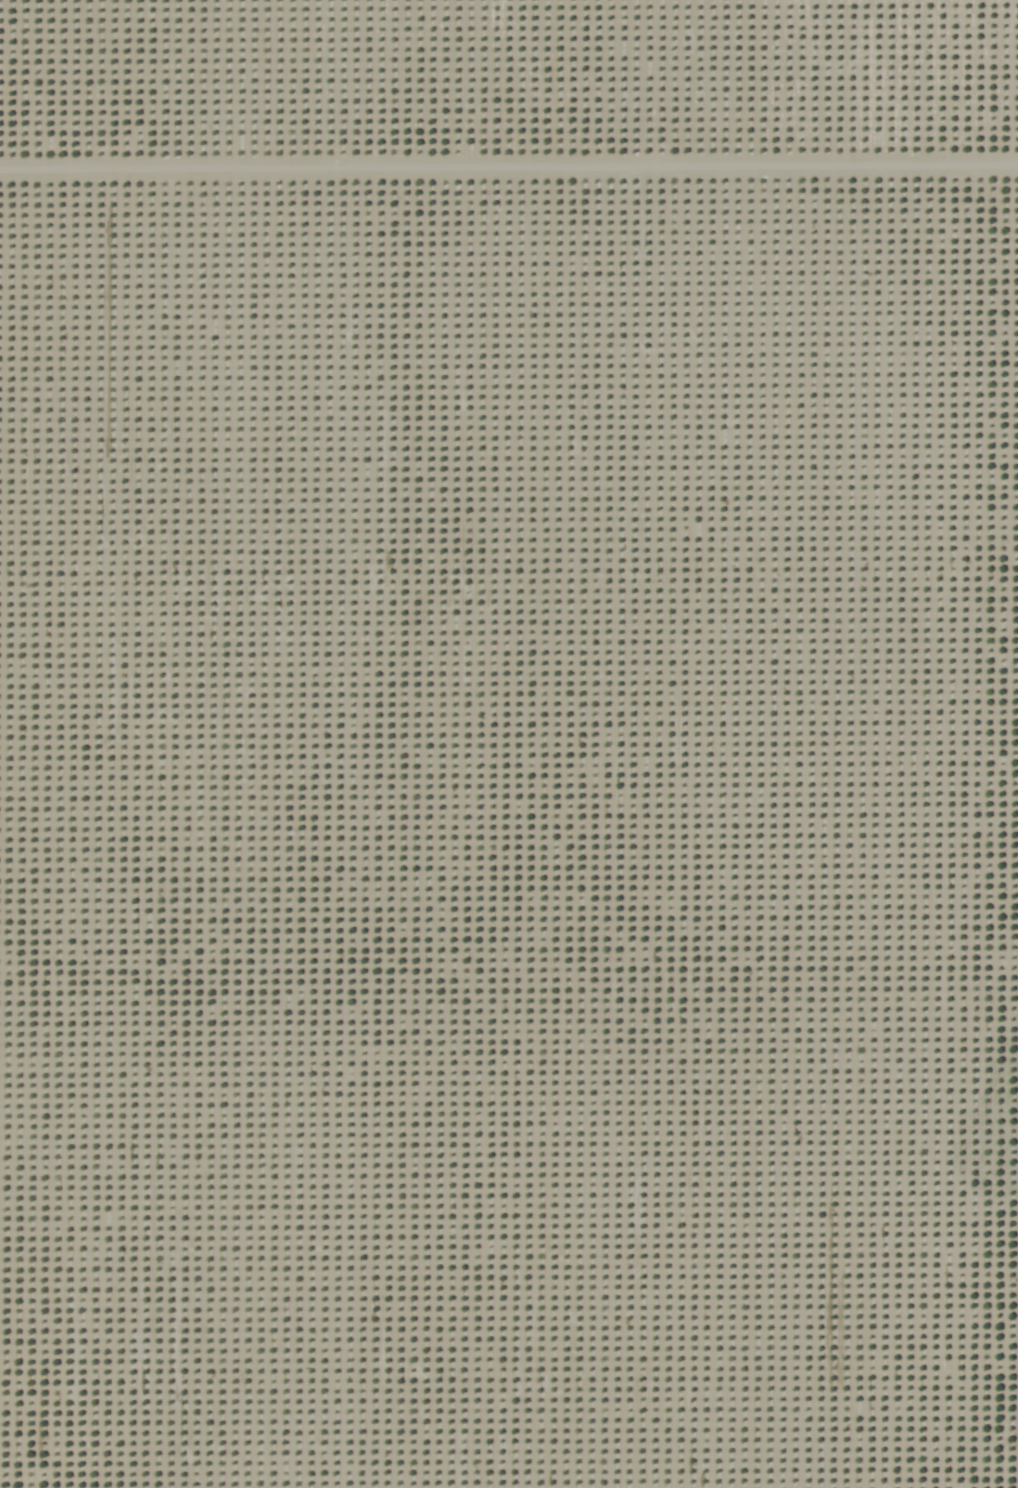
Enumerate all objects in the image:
crop: (509, 744)

